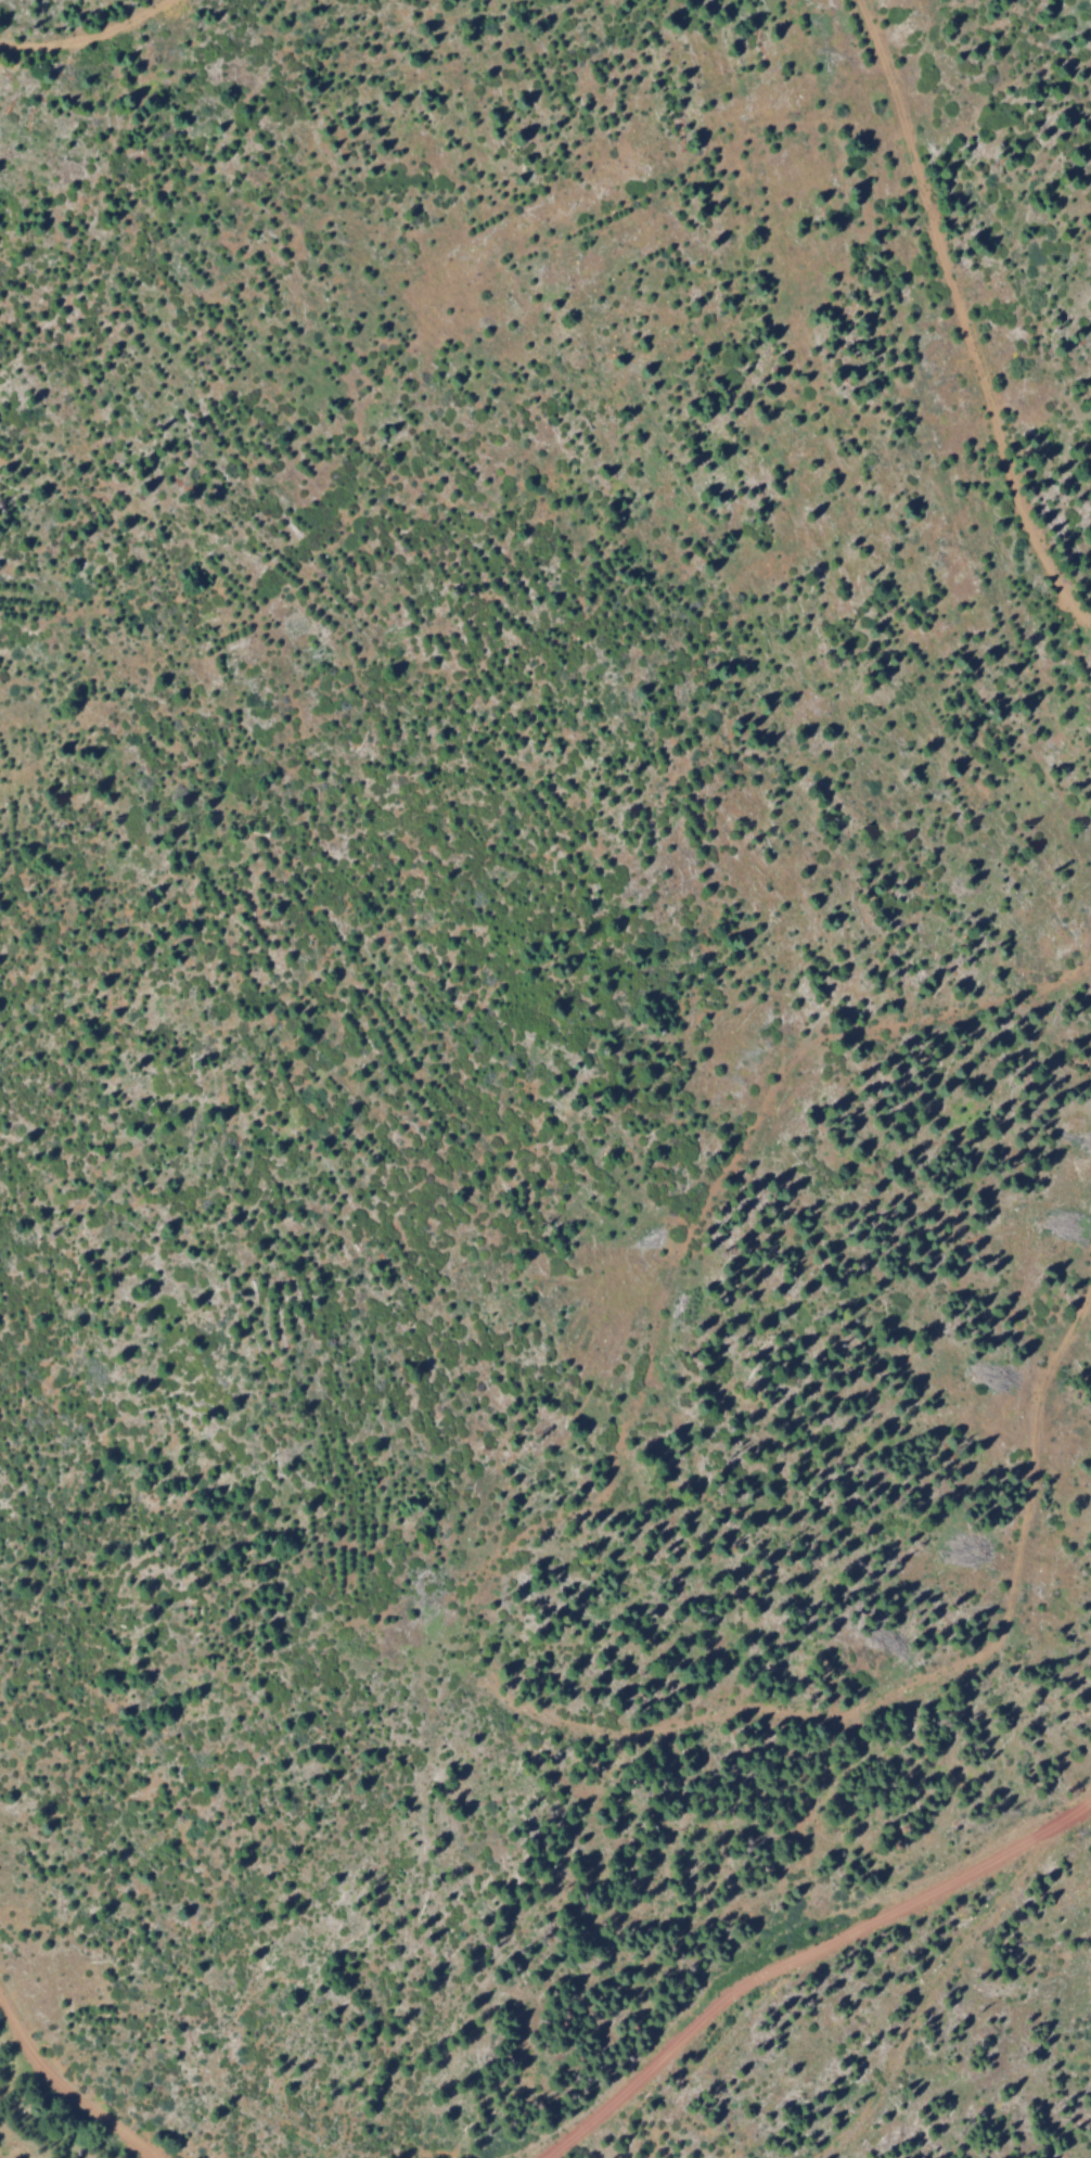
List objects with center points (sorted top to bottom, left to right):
road: (85, 37)
road: (958, 321)
road: (806, 1954)
road: (930, 1993)
road: (70, 2085)

